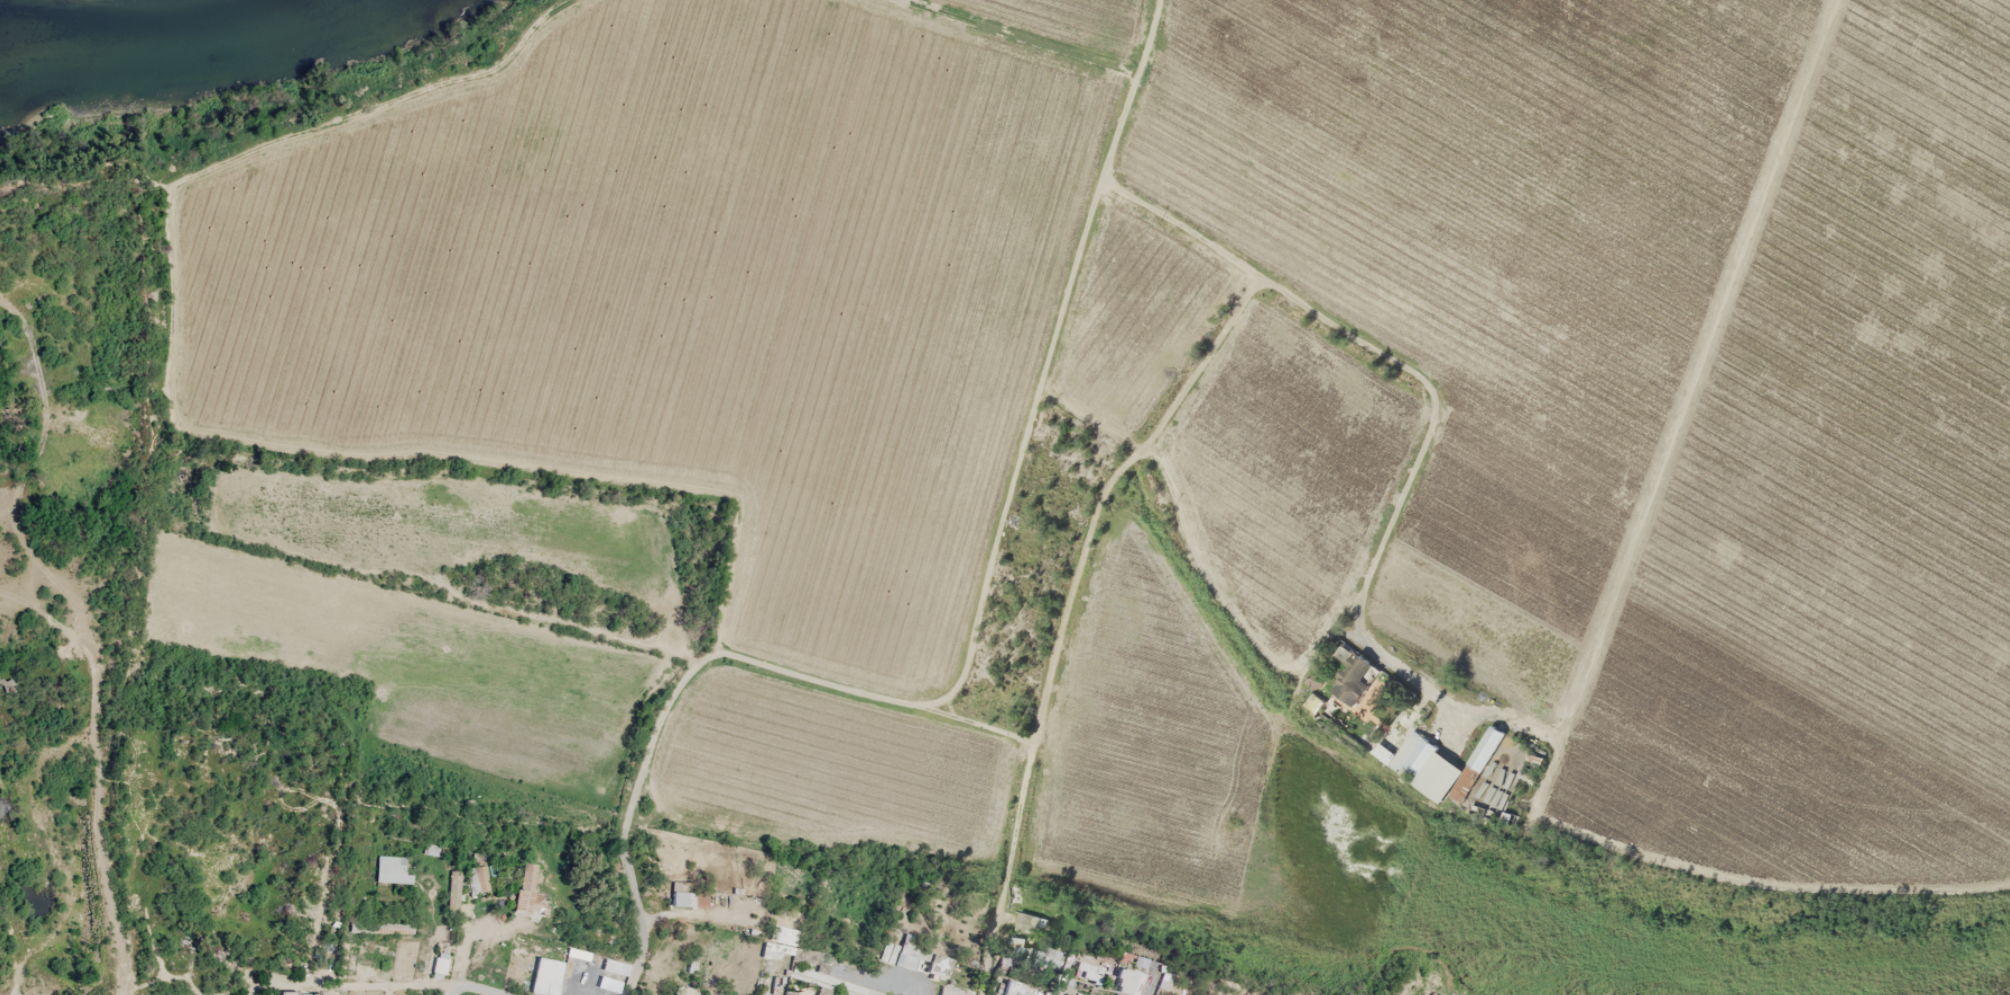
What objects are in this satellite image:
river: (171, 35)
road: (1261, 645)
road: (1049, 678)
road: (874, 696)
road: (629, 815)
road: (92, 823)
building: (517, 888)
building: (448, 892)
road: (692, 916)
building: (392, 928)
road: (986, 956)
road: (1062, 977)
road: (368, 986)
road: (243, 988)
road: (450, 992)

